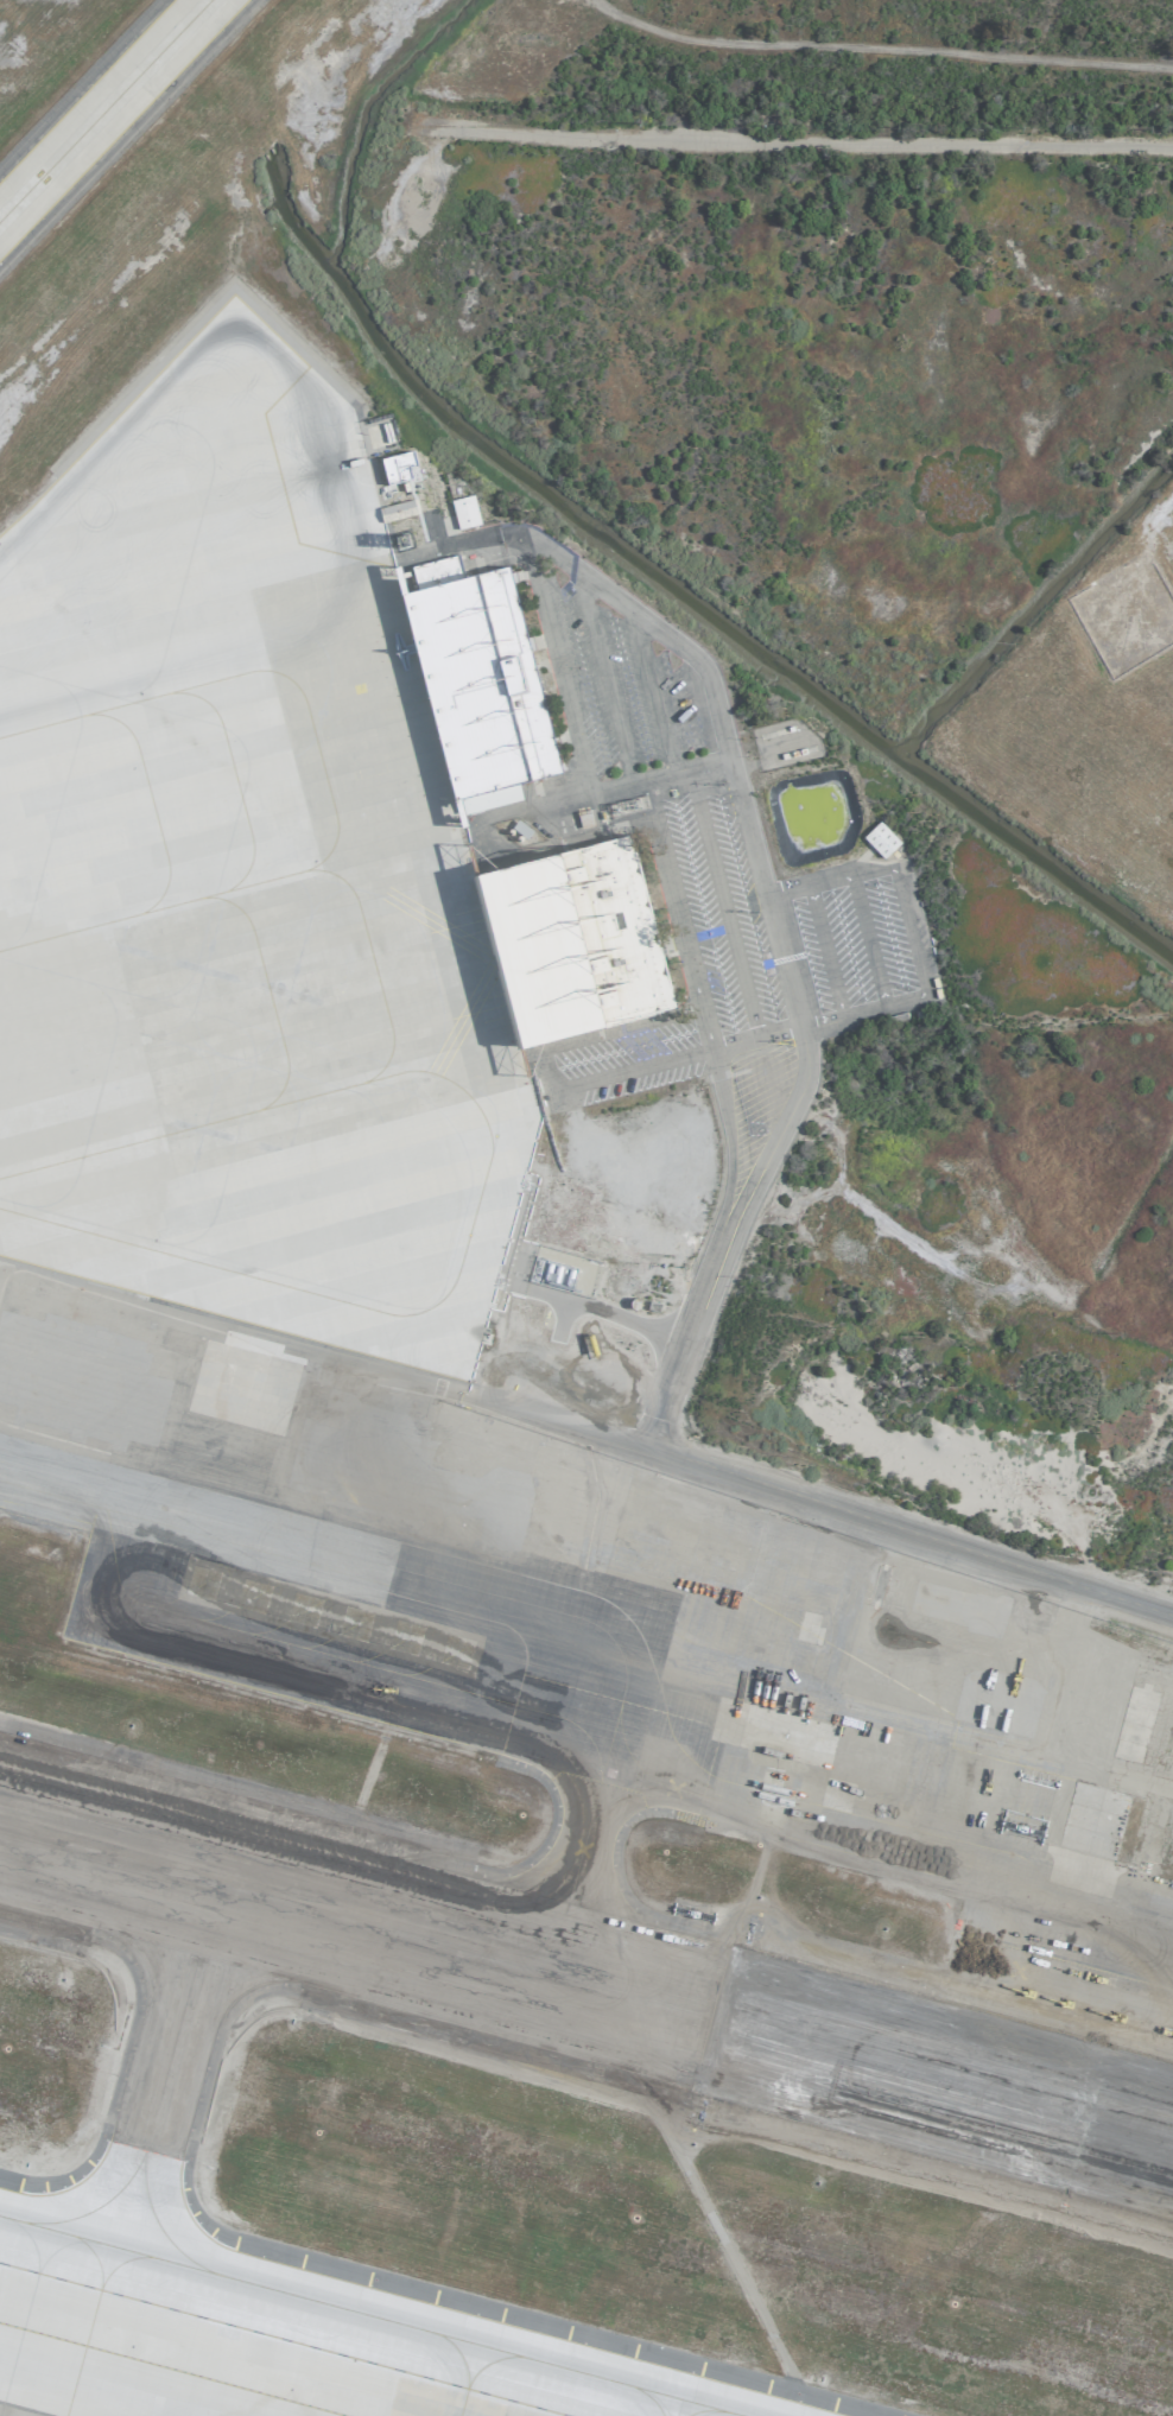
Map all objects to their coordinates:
park: (892, 37)
airport taxiway: (107, 113)
road: (1009, 144)
building: (397, 467)
building: (463, 512)
airport hangar: (478, 677)
building: (478, 677)
road: (575, 738)
building: (583, 819)
road: (703, 824)
building: (879, 839)
airport apron: (243, 890)
road: (768, 903)
road: (673, 908)
road: (912, 930)
road: (867, 939)
airport hangar: (575, 943)
building: (575, 943)
road: (824, 950)
road: (584, 1083)
airport: (586, 1207)
airport taxiway: (51, 1479)
road: (832, 1508)
airport apron: (375, 1623)
road: (939, 1725)
airport taxiway: (575, 1882)
airport runway: (585, 1989)
airport taxiway: (170, 2069)
helipad: (160, 2125)
airport taxiway: (364, 2316)
airport apron: (198, 2363)

